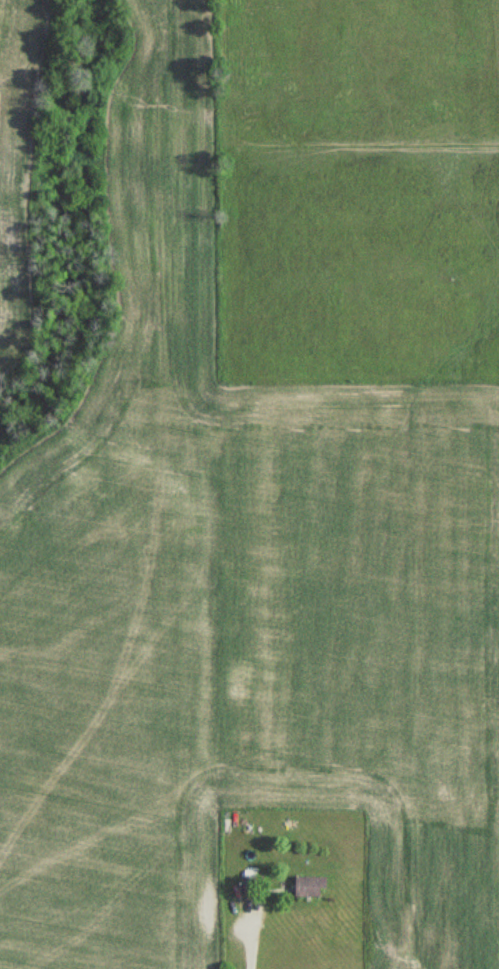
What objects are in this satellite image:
building: (306, 886)

